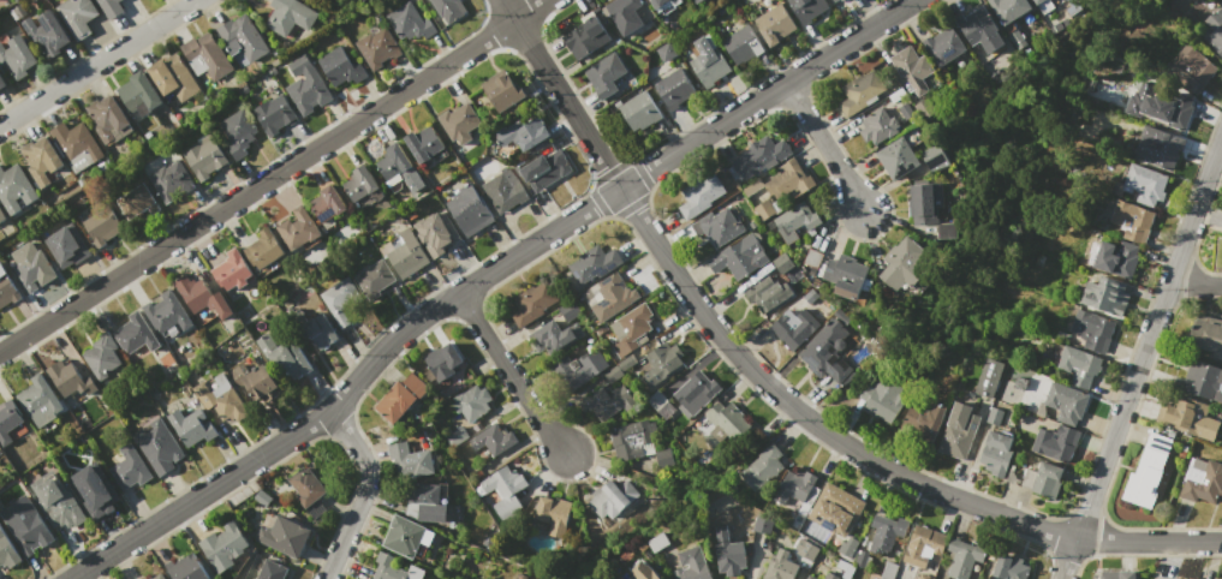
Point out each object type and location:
building: (696, 0)
building: (834, 0)
building: (841, 0)
building: (697, 1)
building: (1035, 1)
building: (658, 2)
building: (109, 7)
building: (449, 8)
building: (806, 8)
building: (1008, 8)
building: (625, 14)
building: (77, 16)
building: (288, 16)
building: (409, 23)
building: (773, 25)
building: (979, 29)
building: (1214, 31)
building: (44, 35)
building: (585, 37)
building: (242, 40)
building: (741, 44)
building: (943, 46)
building: (377, 47)
building: (666, 52)
building: (205, 55)
building: (17, 56)
road: (102, 62)
building: (709, 66)
building: (340, 67)
building: (912, 68)
building: (1194, 68)
building: (604, 74)
building: (174, 77)
building: (2, 83)
building: (306, 86)
building: (674, 89)
building: (502, 90)
building: (862, 90)
building: (138, 94)
building: (1169, 107)
building: (640, 111)
building: (274, 114)
building: (108, 120)
building: (459, 123)
building: (877, 126)
building: (521, 131)
building: (238, 132)
building: (423, 143)
building: (76, 144)
road: (827, 148)
building: (1160, 148)
building: (762, 155)
building: (205, 157)
building: (896, 157)
building: (934, 159)
building: (41, 160)
building: (393, 162)
building: (546, 169)
road: (274, 174)
building: (169, 179)
building: (360, 183)
building: (1145, 184)
building: (782, 187)
building: (14, 189)
building: (505, 190)
building: (701, 193)
building: (136, 201)
building: (326, 203)
building: (467, 210)
building: (1, 215)
building: (928, 215)
building: (1132, 220)
building: (795, 221)
building: (751, 223)
building: (101, 226)
building: (717, 226)
building: (298, 228)
building: (436, 233)
building: (66, 245)
building: (264, 249)
building: (407, 255)
building: (739, 257)
building: (812, 258)
building: (1117, 258)
building: (782, 263)
building: (902, 263)
building: (592, 264)
building: (30, 269)
building: (232, 270)
building: (846, 276)
road: (481, 277)
building: (374, 279)
road: (1197, 281)
building: (6, 289)
building: (767, 293)
building: (1105, 296)
building: (201, 297)
building: (610, 298)
building: (339, 299)
building: (532, 303)
building: (166, 312)
building: (793, 328)
building: (630, 329)
building: (1092, 330)
building: (320, 332)
building: (135, 334)
building: (554, 336)
building: (1206, 336)
building: (825, 352)
building: (284, 356)
building: (103, 359)
building: (442, 360)
building: (661, 362)
building: (626, 363)
road: (1140, 363)
building: (1079, 366)
building: (580, 368)
road: (508, 375)
building: (613, 375)
building: (989, 377)
building: (68, 380)
building: (1202, 381)
building: (260, 384)
road: (775, 393)
building: (696, 394)
building: (400, 396)
building: (221, 398)
building: (36, 400)
building: (606, 401)
building: (471, 402)
building: (1065, 402)
building: (658, 404)
building: (878, 404)
building: (994, 417)
building: (8, 419)
building: (1191, 419)
building: (923, 422)
building: (725, 423)
building: (191, 426)
building: (959, 430)
building: (454, 437)
building: (633, 440)
building: (491, 441)
building: (1055, 443)
building: (159, 446)
building: (997, 453)
building: (664, 458)
building: (704, 459)
building: (409, 462)
building: (129, 467)
building: (762, 467)
building: (1146, 472)
building: (1026, 477)
building: (1047, 479)
building: (1202, 482)
building: (794, 485)
building: (306, 487)
building: (505, 490)
building: (97, 491)
road: (365, 493)
building: (262, 497)
building: (807, 497)
building: (608, 500)
building: (56, 501)
building: (425, 502)
building: (835, 509)
building: (554, 514)
building: (762, 524)
building: (25, 526)
building: (884, 533)
building: (284, 536)
building: (407, 537)
building: (922, 544)
building: (223, 547)
building: (805, 547)
building: (847, 547)
building: (7, 551)
building: (728, 553)
building: (964, 556)
building: (860, 559)
building: (691, 565)
building: (780, 566)
building: (185, 567)
building: (1011, 567)
building: (394, 568)
building: (845, 568)
building: (272, 571)
building: (887, 571)
building: (1116, 574)
building: (159, 577)
building: (809, 577)
building: (829, 577)
building: (644, 578)
building: (1164, 578)
building: (1198, 578)

